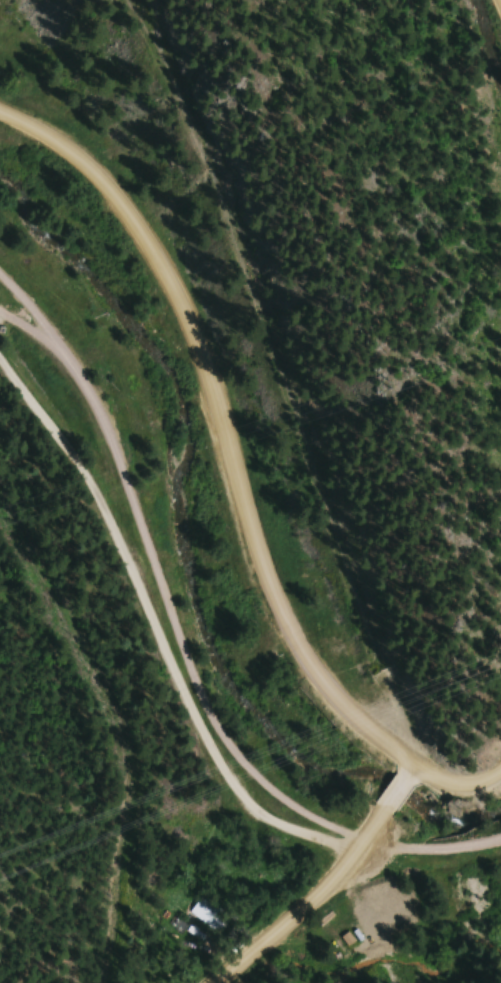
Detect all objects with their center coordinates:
road: (27, 309)
road: (27, 328)
road: (237, 476)
road: (158, 634)
road: (196, 686)
road: (400, 791)
road: (307, 902)
building: (207, 912)

